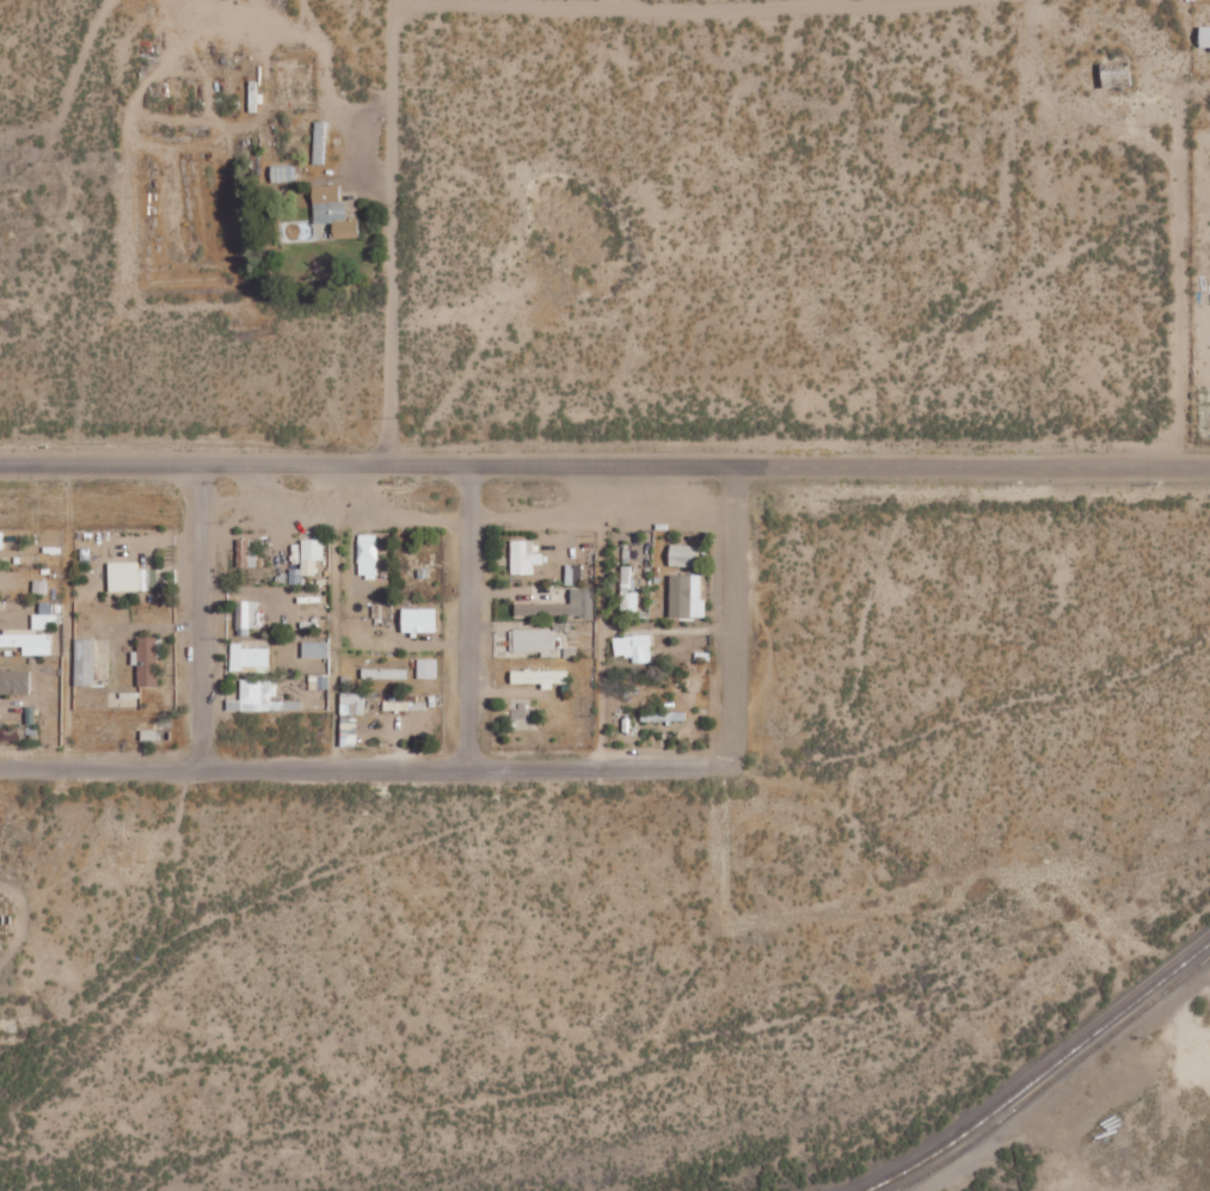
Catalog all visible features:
road: (662, 13)
building: (1204, 36)
building: (332, 211)
road: (394, 232)
road: (1179, 234)
road: (370, 465)
road: (975, 466)
road: (362, 509)
building: (0, 539)
building: (246, 552)
building: (682, 554)
building: (309, 555)
building: (367, 555)
building: (523, 555)
building: (573, 573)
building: (130, 577)
building: (38, 588)
building: (628, 589)
building: (683, 593)
building: (560, 606)
building: (246, 614)
building: (45, 615)
road: (201, 616)
road: (469, 616)
road: (737, 616)
building: (418, 619)
building: (533, 640)
building: (26, 641)
building: (633, 646)
building: (314, 649)
building: (248, 658)
building: (84, 662)
building: (146, 662)
building: (426, 668)
building: (383, 674)
building: (539, 676)
building: (318, 681)
building: (14, 682)
building: (257, 696)
building: (351, 702)
building: (399, 705)
building: (348, 732)
road: (366, 767)
railway: (1040, 1073)
railway: (1055, 1076)

